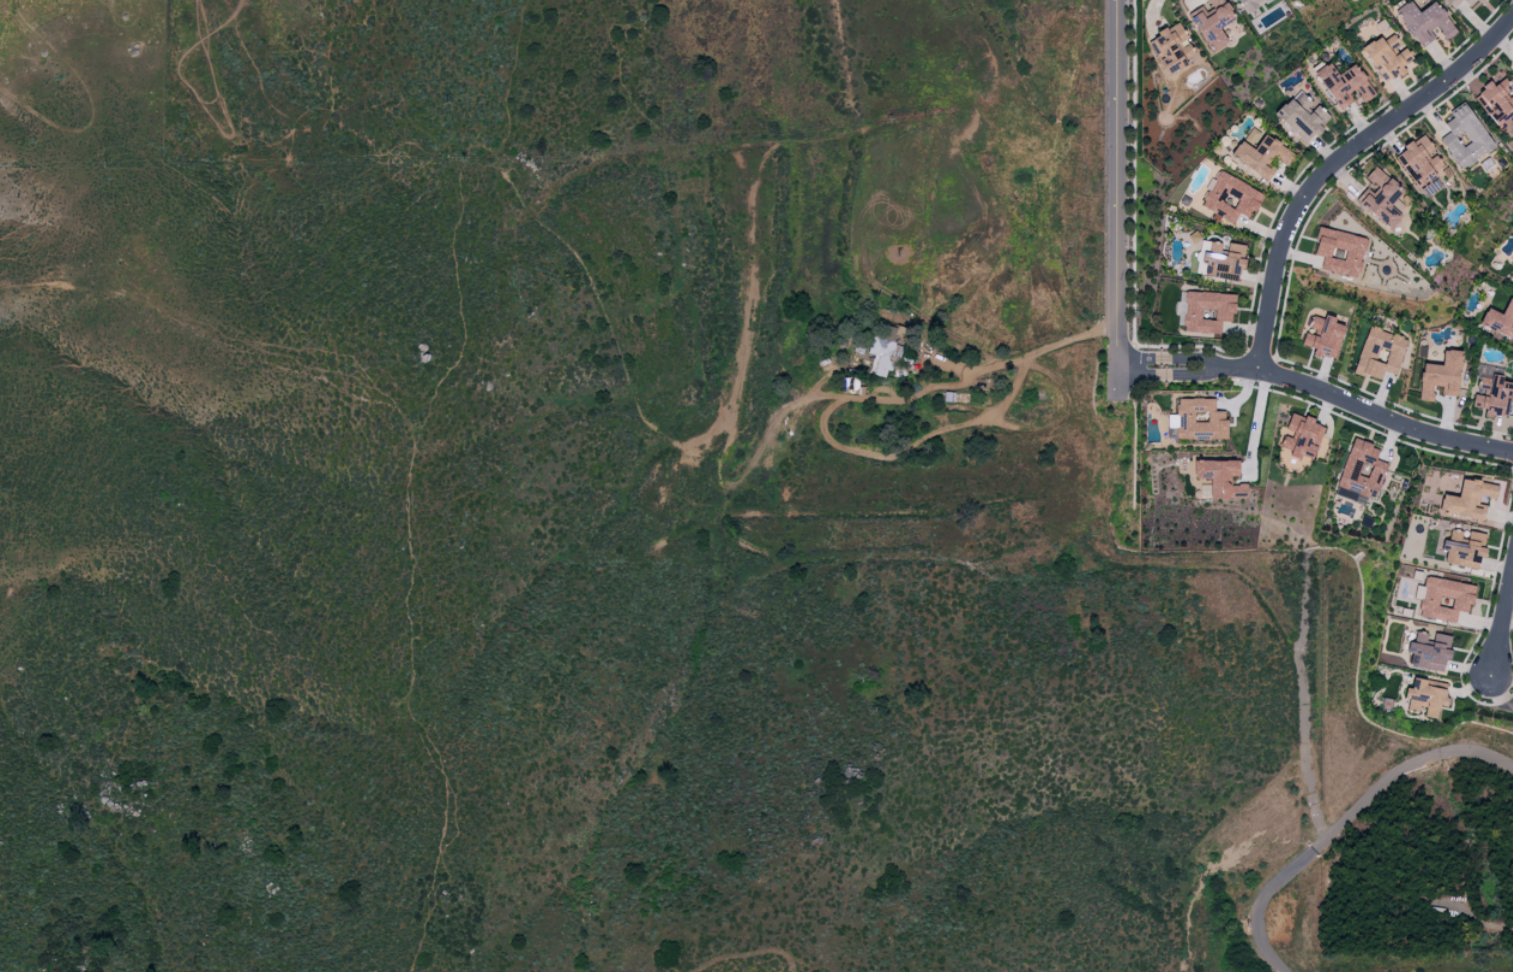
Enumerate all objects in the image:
building: (1479, 1)
building: (1458, 2)
building: (1249, 4)
road: (1152, 14)
building: (1424, 22)
building: (1213, 23)
building: (1173, 49)
building: (1387, 57)
building: (1344, 84)
building: (1496, 101)
building: (1302, 117)
building: (1465, 137)
building: (1261, 155)
road: (1337, 159)
building: (1420, 161)
road: (1119, 196)
building: (1230, 198)
building: (1380, 198)
building: (1339, 251)
building: (1223, 259)
building: (1207, 311)
building: (1499, 320)
building: (1323, 337)
building: (883, 353)
building: (1379, 353)
road: (1022, 356)
road: (1140, 358)
road: (1195, 358)
road: (1142, 374)
road: (1197, 374)
building: (1440, 376)
building: (1492, 393)
road: (1369, 410)
building: (1197, 420)
road: (1258, 421)
building: (1361, 469)
building: (1220, 478)
building: (1468, 499)
building: (1465, 551)
building: (1443, 598)
road: (1501, 621)
building: (1429, 650)
road: (1499, 693)
building: (1425, 697)
road: (1344, 822)

